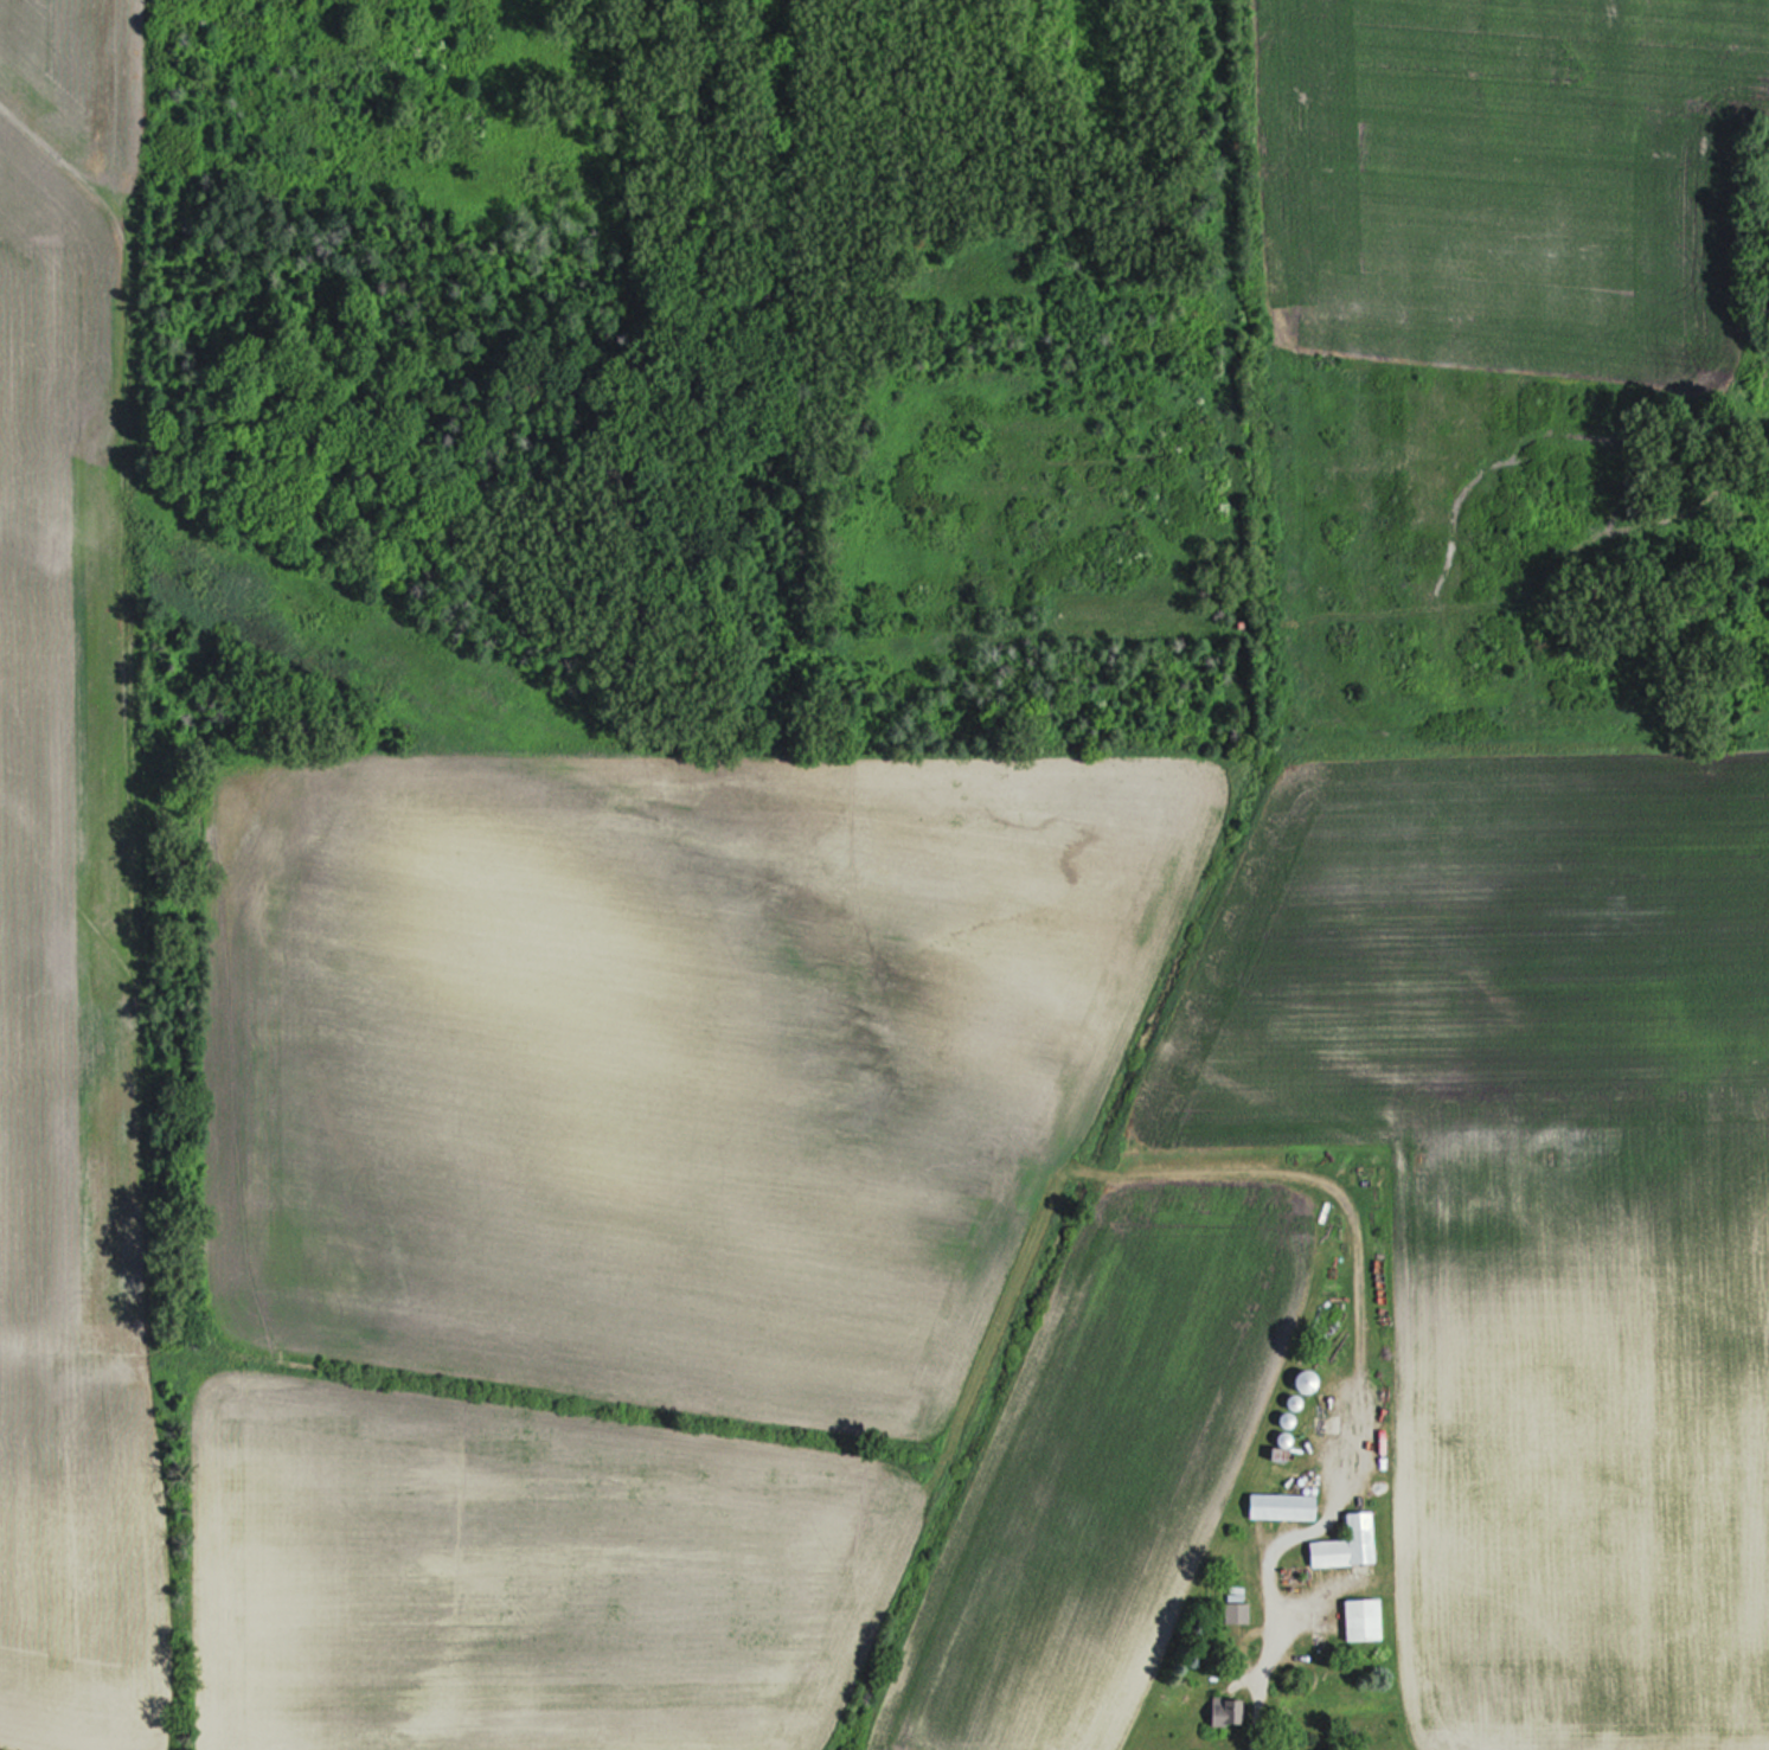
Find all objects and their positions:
building: (1284, 1506)
building: (1350, 1544)
building: (1365, 1618)
road: (1270, 1622)

